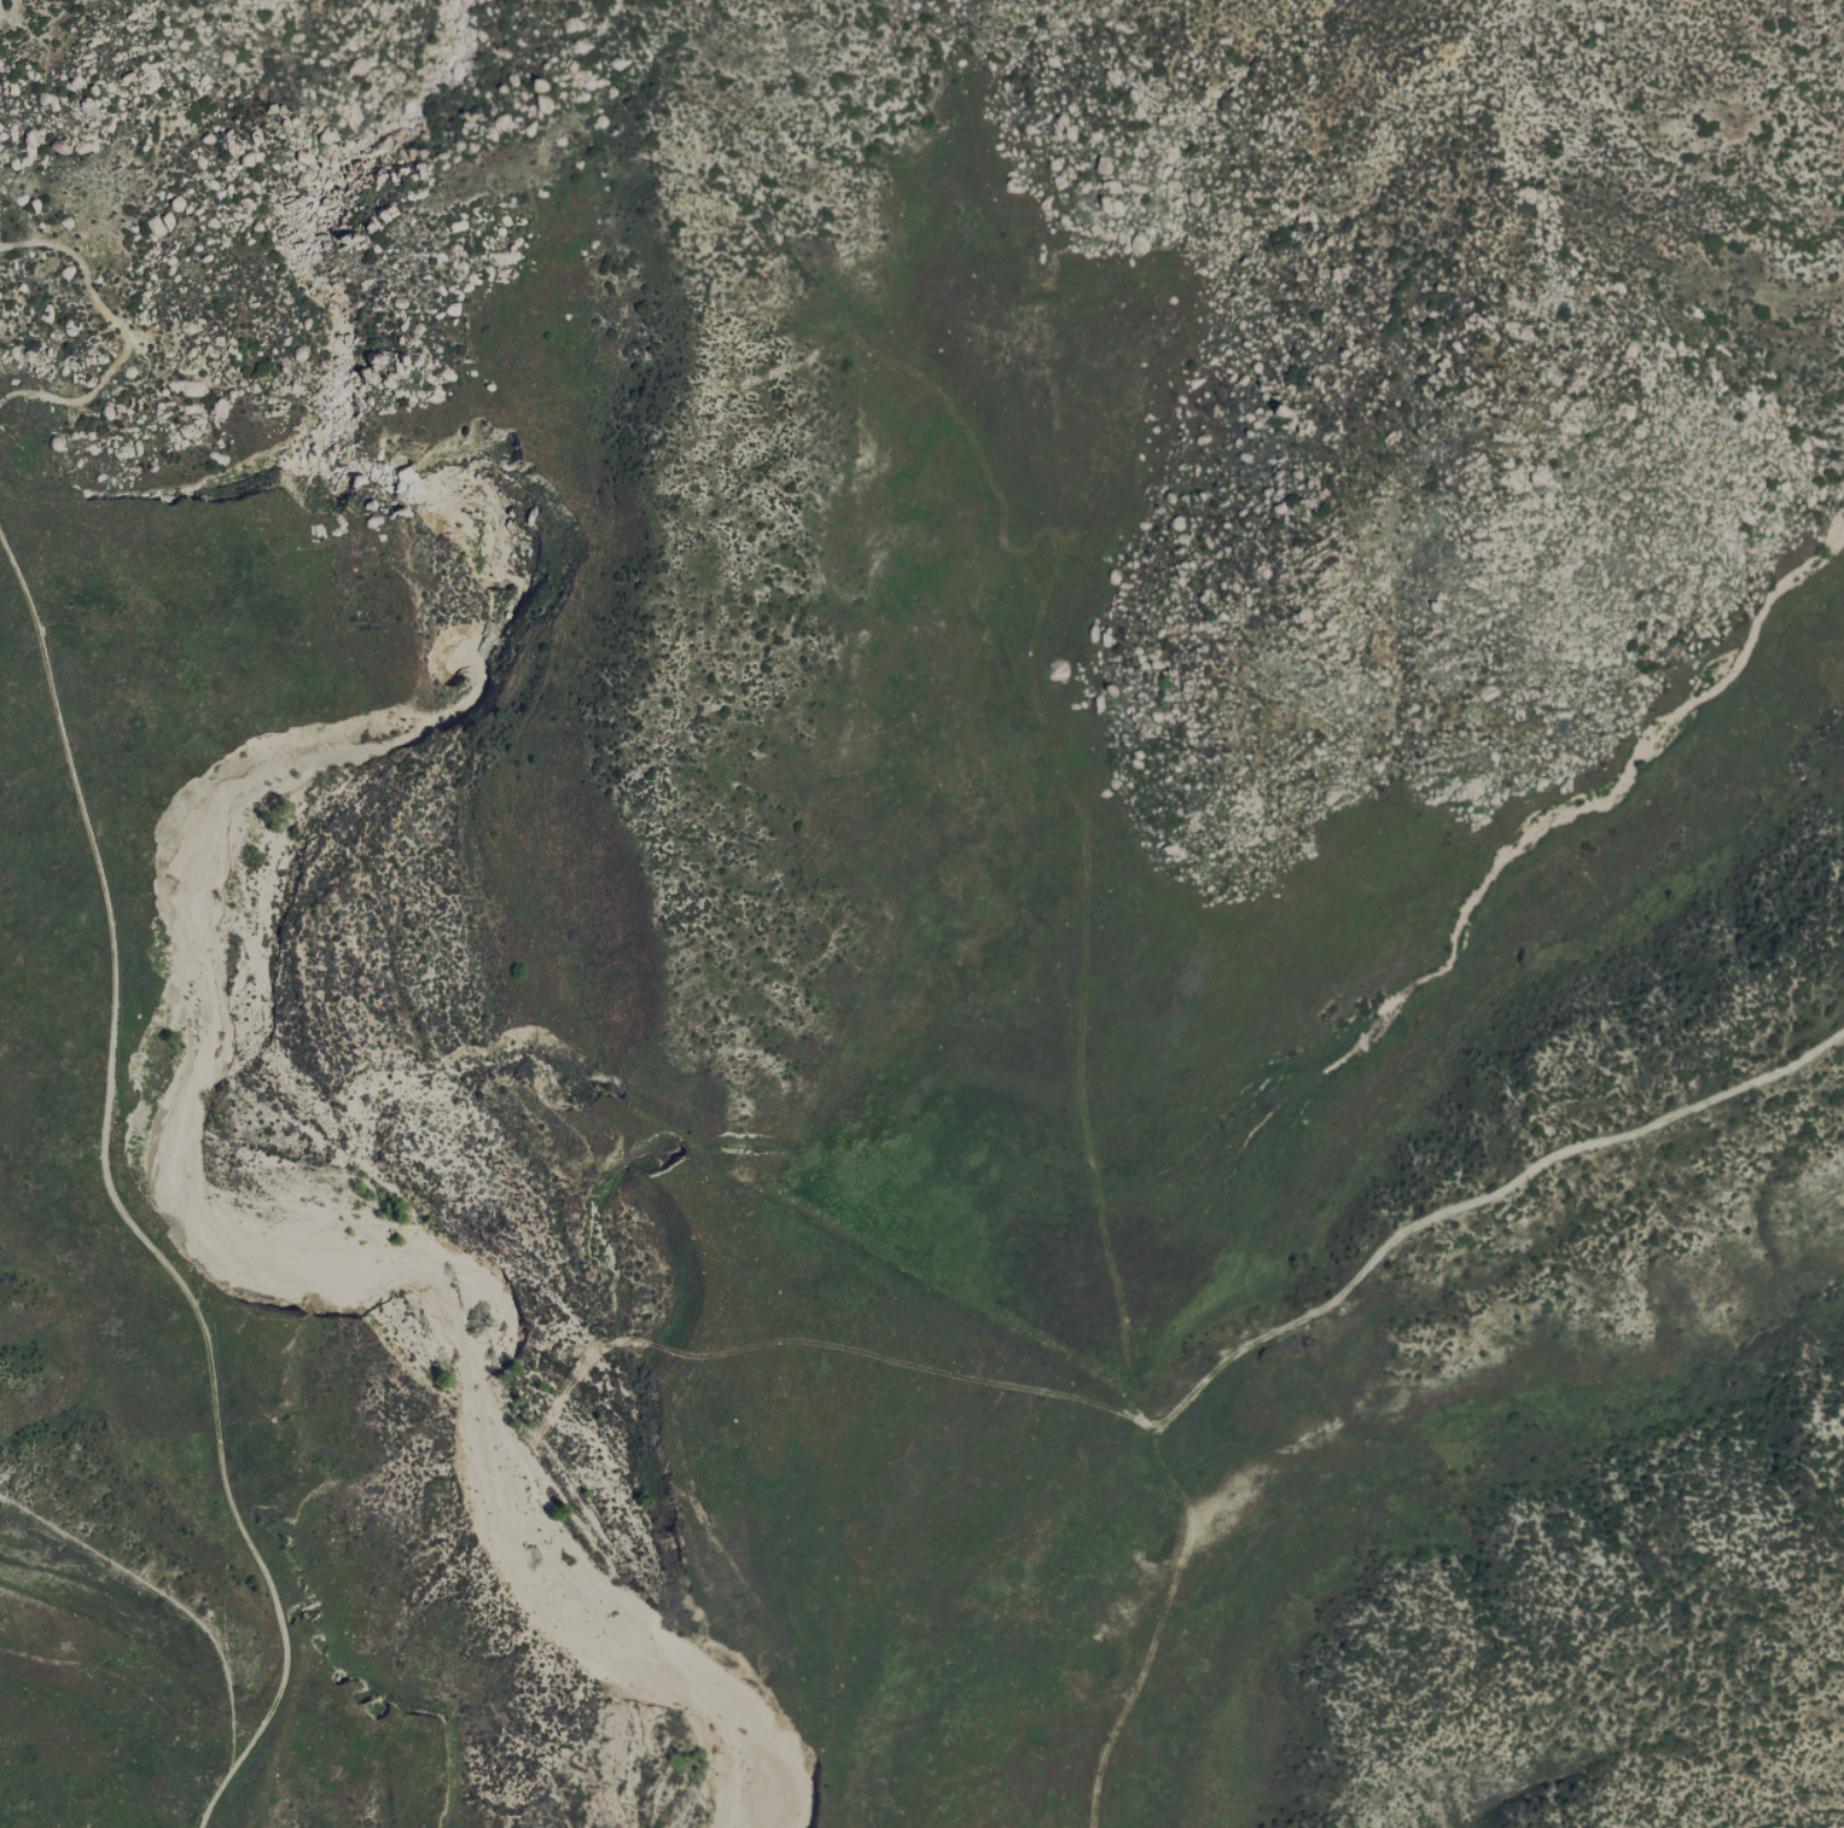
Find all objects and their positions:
road: (1537, 1171)

